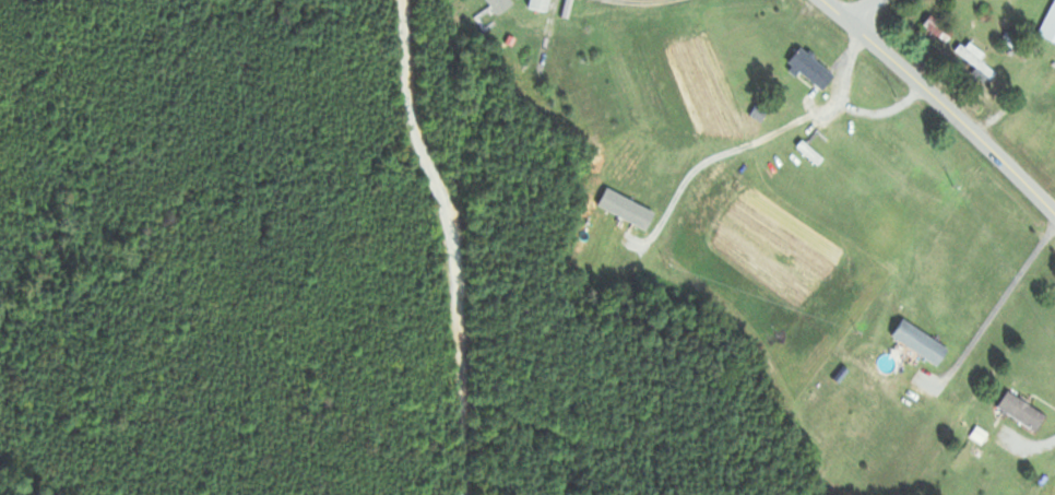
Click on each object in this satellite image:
road: (822, 0)
road: (633, 3)
building: (534, 5)
road: (867, 14)
building: (1047, 26)
building: (935, 32)
building: (972, 60)
building: (808, 70)
road: (941, 102)
road: (854, 110)
road: (730, 155)
road: (455, 243)
road: (997, 307)
building: (915, 344)
building: (1019, 414)
road: (1038, 449)

